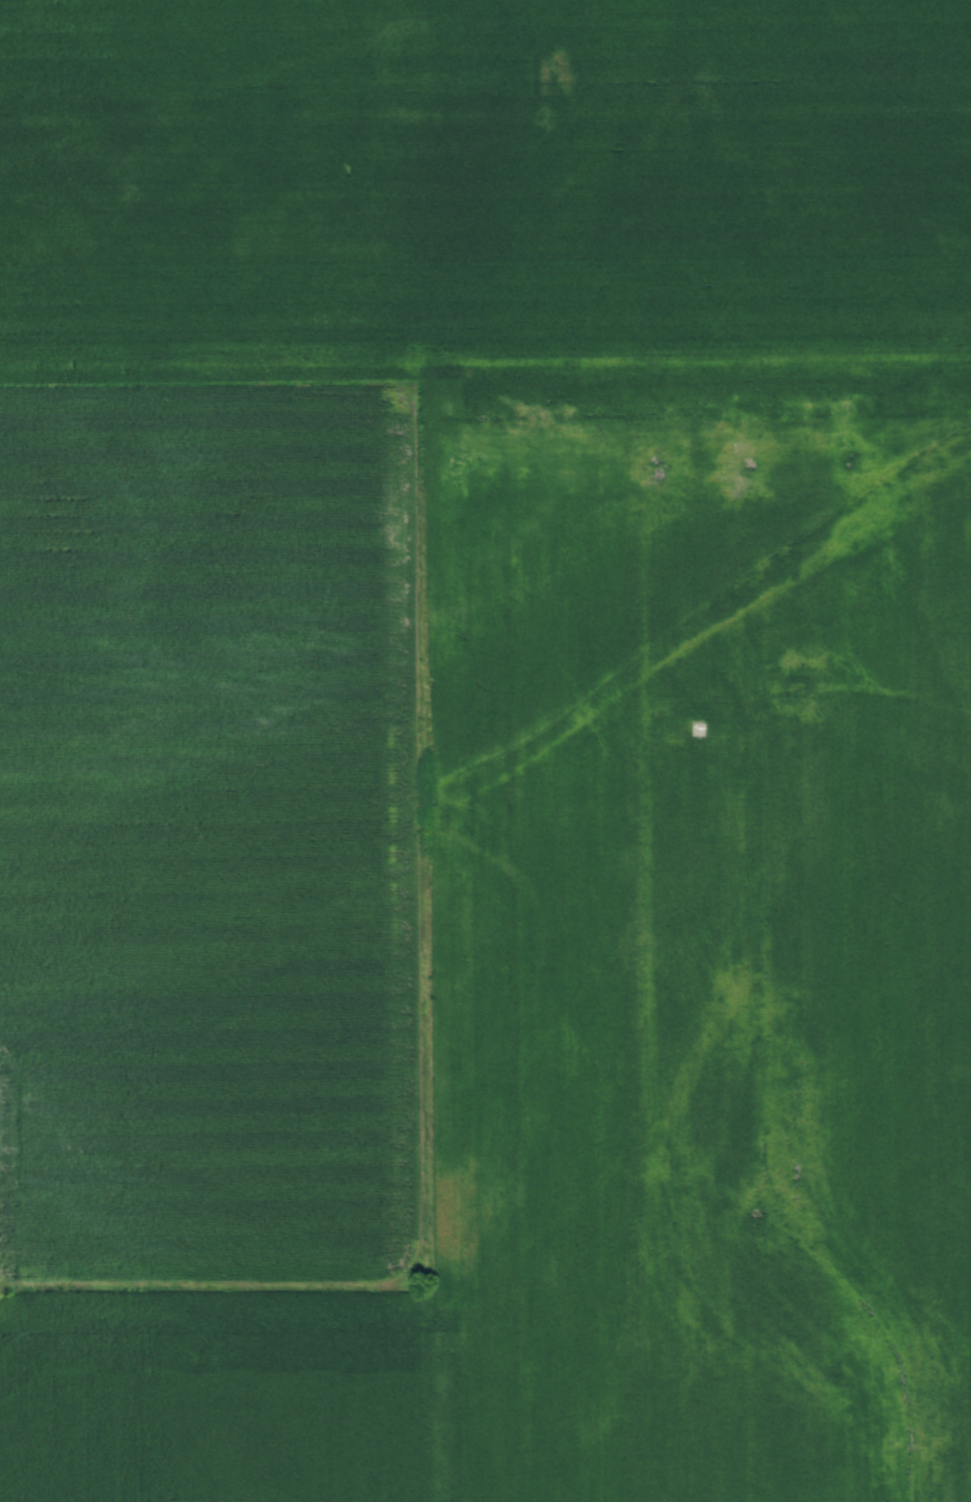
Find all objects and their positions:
crop: (483, 190)
crop: (500, 905)
crop: (216, 1396)

